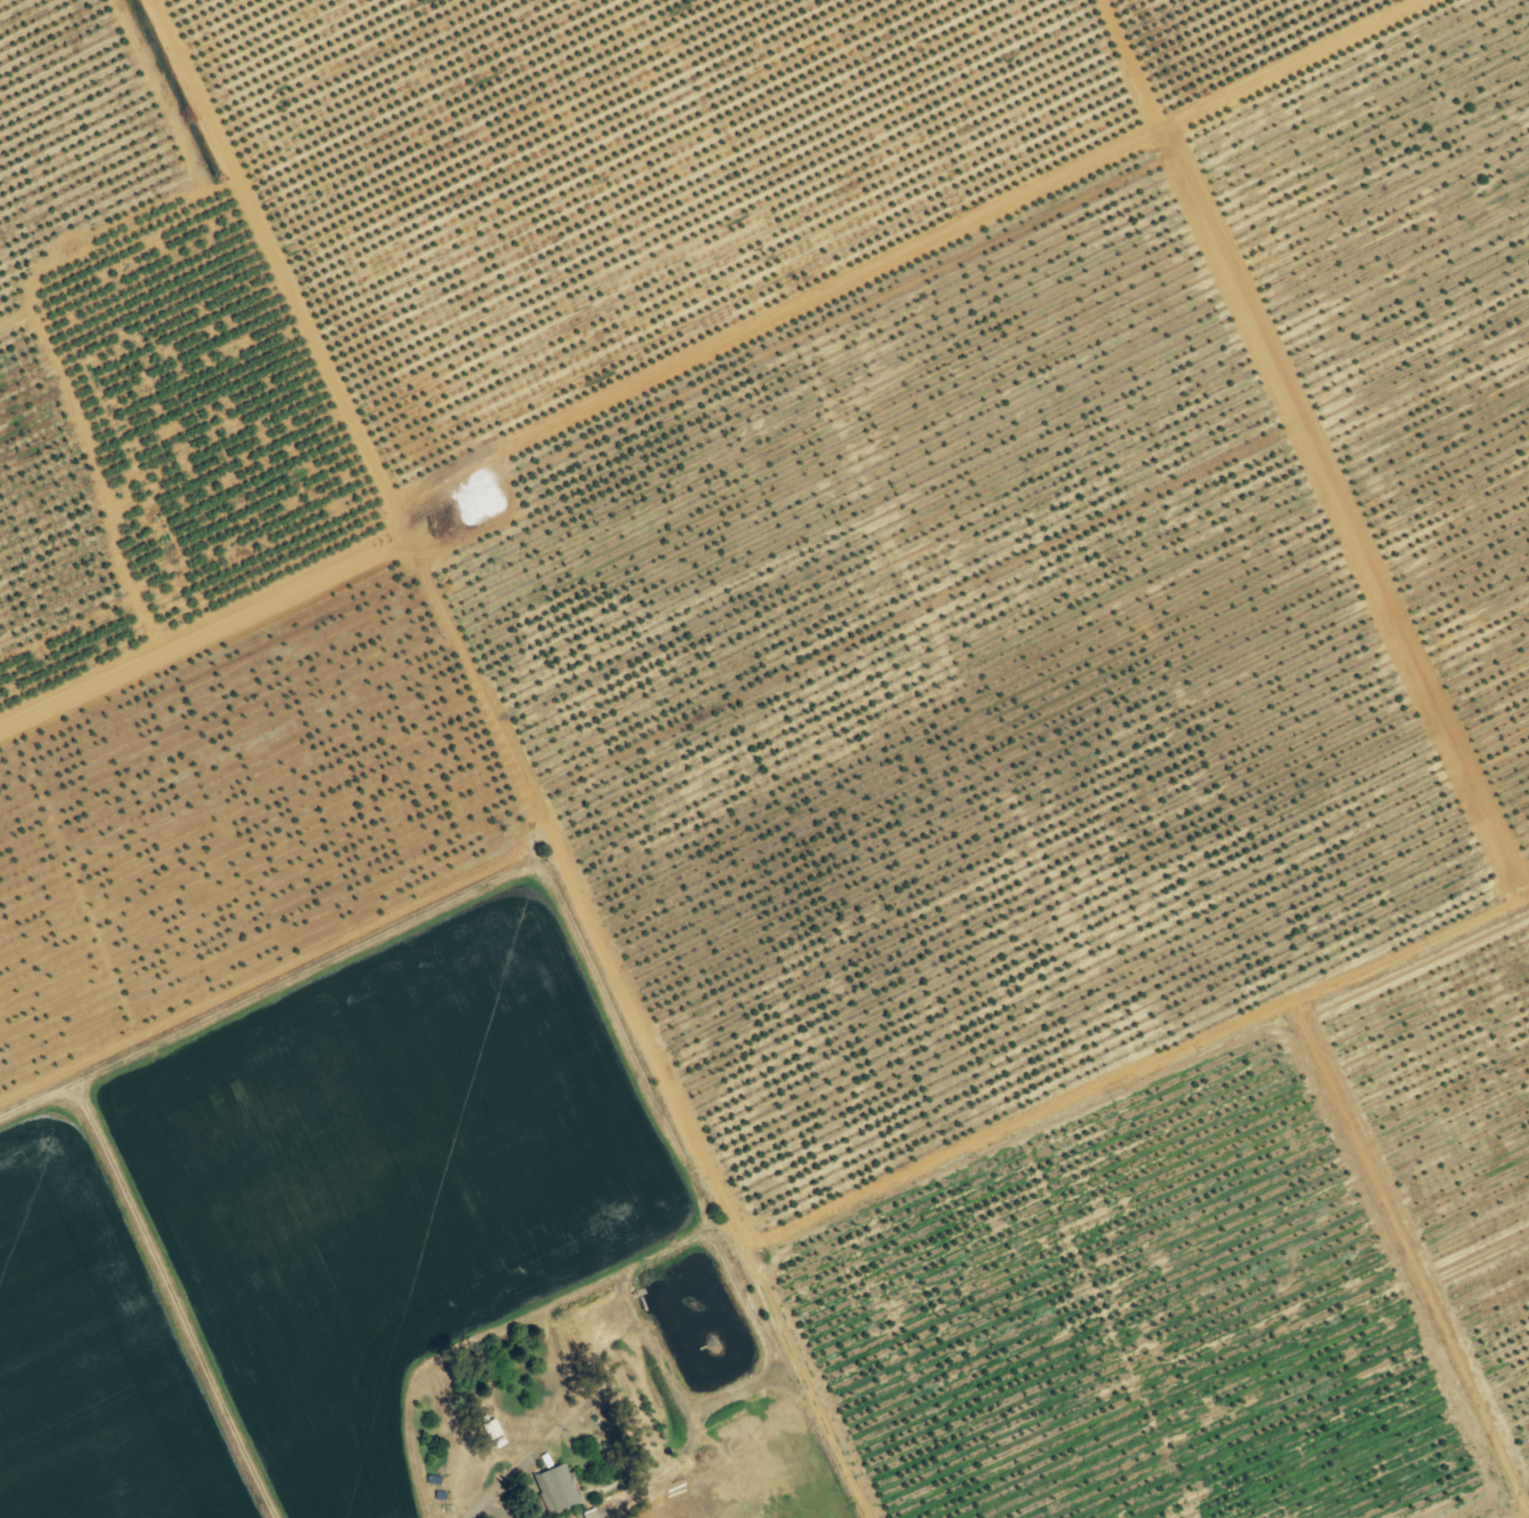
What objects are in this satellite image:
road: (1136, 65)
road: (285, 292)
road: (712, 358)
road: (613, 978)
road: (648, 1261)
road: (525, 1462)
building: (552, 1488)

